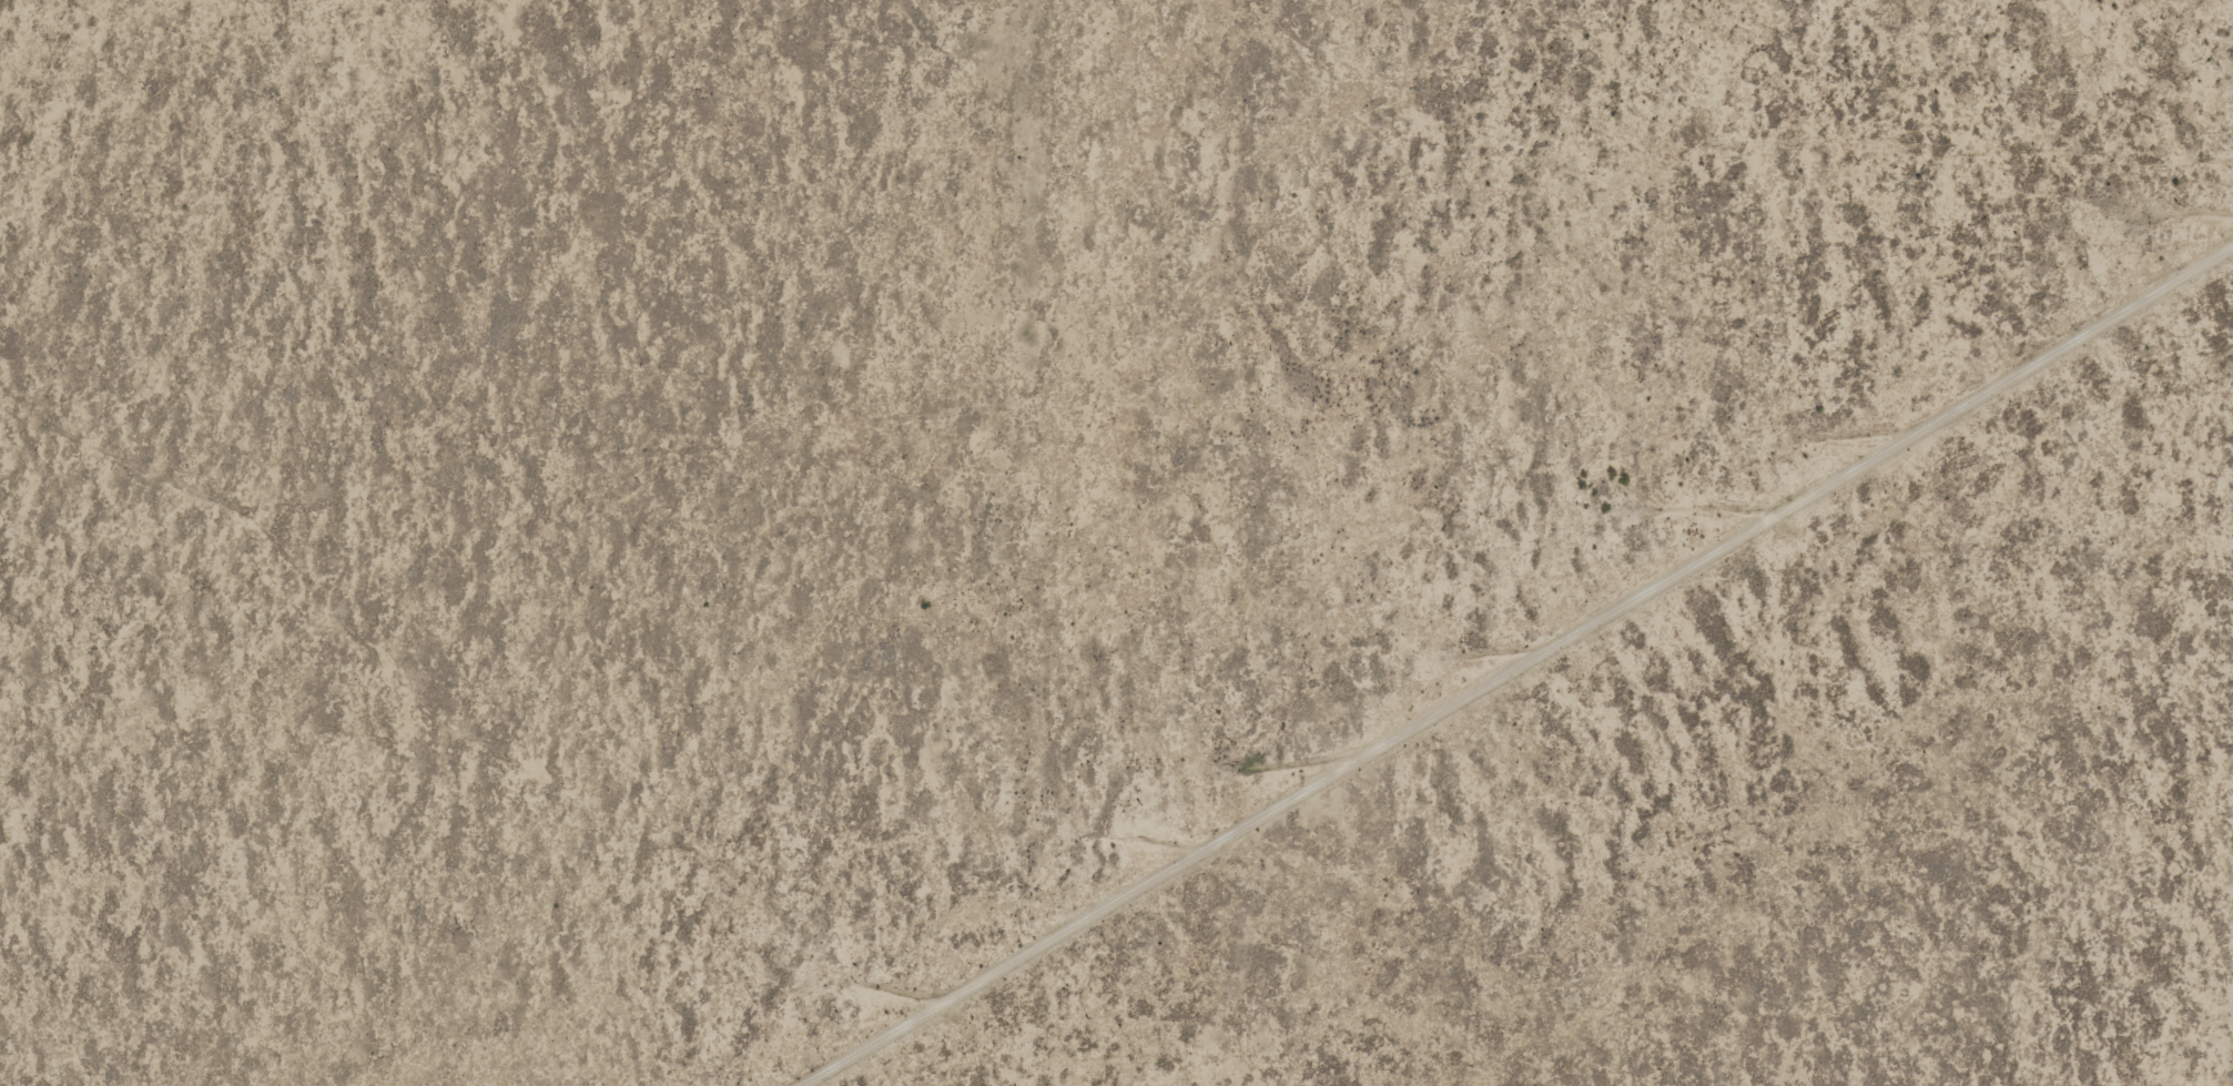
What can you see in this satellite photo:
road: (1522, 669)

